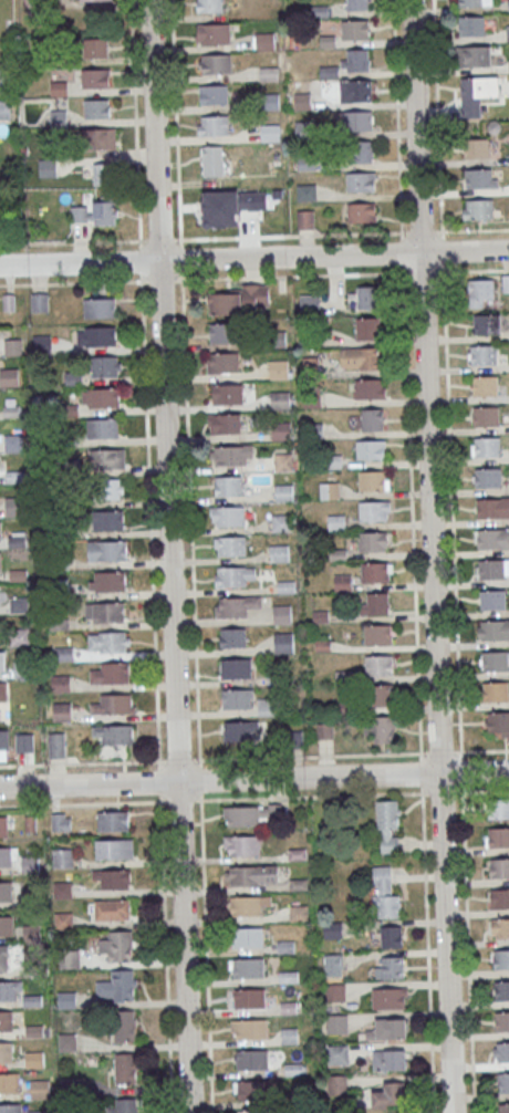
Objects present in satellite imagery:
building: (95, 0)
building: (472, 2)
building: (357, 4)
building: (209, 6)
building: (471, 25)
building: (355, 29)
building: (212, 33)
building: (95, 46)
building: (472, 55)
building: (357, 59)
building: (215, 64)
building: (3, 76)
building: (95, 77)
building: (362, 90)
building: (214, 94)
building: (477, 94)
building: (4, 108)
building: (96, 108)
building: (360, 121)
building: (214, 125)
building: (303, 129)
building: (269, 132)
building: (98, 138)
building: (477, 148)
building: (363, 150)
building: (211, 160)
building: (46, 167)
building: (103, 174)
building: (481, 178)
building: (361, 181)
building: (305, 193)
building: (480, 209)
building: (95, 212)
building: (362, 212)
building: (214, 218)
building: (305, 219)
road: (254, 237)
road: (253, 258)
road: (455, 271)
road: (272, 277)
road: (71, 283)
building: (506, 283)
building: (482, 288)
building: (367, 297)
building: (239, 300)
building: (40, 303)
building: (310, 303)
building: (98, 308)
building: (488, 323)
building: (366, 327)
building: (222, 332)
building: (104, 336)
building: (311, 337)
building: (278, 339)
building: (42, 343)
building: (485, 354)
building: (360, 357)
building: (226, 362)
building: (105, 366)
building: (279, 368)
building: (9, 376)
building: (485, 385)
building: (368, 388)
building: (229, 394)
building: (101, 397)
building: (280, 398)
building: (312, 398)
building: (487, 416)
building: (373, 419)
building: (228, 423)
building: (102, 428)
building: (281, 430)
building: (313, 430)
building: (13, 443)
building: (488, 446)
building: (371, 448)
building: (229, 456)
building: (107, 458)
building: (283, 461)
building: (332, 461)
building: (70, 469)
building: (488, 477)
building: (372, 480)
building: (228, 486)
building: (106, 489)
building: (330, 491)
building: (284, 492)
building: (492, 508)
building: (15, 509)
building: (373, 510)
building: (230, 516)
building: (110, 520)
building: (336, 522)
building: (280, 524)
building: (0, 531)
building: (494, 538)
building: (17, 541)
building: (372, 541)
building: (232, 545)
building: (107, 550)
building: (279, 553)
building: (339, 554)
road: (153, 555)
road: (172, 555)
road: (191, 555)
road: (430, 555)
road: (454, 555)
road: (412, 556)
building: (0, 562)
building: (491, 568)
building: (375, 571)
building: (231, 576)
building: (17, 581)
building: (107, 581)
building: (343, 582)
building: (285, 585)
building: (60, 591)
building: (492, 599)
building: (375, 603)
building: (19, 604)
building: (233, 606)
building: (104, 612)
building: (282, 614)
building: (321, 616)
building: (495, 628)
building: (378, 634)
building: (18, 637)
building: (233, 637)
building: (108, 641)
building: (283, 643)
building: (323, 646)
building: (2, 660)
building: (496, 660)
building: (378, 665)
building: (237, 668)
building: (111, 673)
building: (61, 684)
building: (2, 690)
building: (496, 690)
building: (382, 694)
building: (237, 698)
building: (114, 704)
building: (266, 707)
building: (62, 712)
building: (498, 721)
building: (381, 728)
building: (240, 730)
building: (325, 730)
building: (114, 734)
building: (25, 742)
building: (4, 745)
building: (56, 745)
road: (485, 750)
road: (254, 780)
building: (498, 808)
building: (243, 815)
building: (61, 821)
building: (113, 821)
building: (3, 826)
building: (387, 826)
building: (499, 838)
building: (245, 845)
building: (114, 849)
building: (8, 856)
building: (63, 857)
building: (31, 863)
building: (499, 867)
building: (253, 874)
building: (115, 878)
building: (62, 890)
building: (6, 891)
building: (385, 894)
building: (500, 898)
building: (247, 906)
building: (112, 911)
building: (7, 925)
building: (333, 928)
building: (502, 928)
building: (392, 936)
building: (248, 937)
building: (116, 945)
building: (285, 947)
building: (6, 958)
building: (501, 958)
building: (69, 959)
building: (333, 965)
building: (249, 967)
building: (389, 967)
building: (288, 976)
building: (117, 986)
building: (10, 990)
building: (501, 990)
building: (335, 992)
building: (388, 997)
building: (250, 998)
building: (288, 1008)
building: (7, 1020)
building: (502, 1021)
building: (336, 1023)
building: (125, 1026)
building: (250, 1028)
building: (388, 1029)
building: (289, 1036)
building: (7, 1052)
building: (502, 1052)
building: (337, 1053)
building: (252, 1059)
building: (389, 1059)
building: (126, 1070)
building: (293, 1070)
building: (10, 1082)
building: (503, 1082)
building: (336, 1084)
building: (40, 1089)
building: (252, 1090)
building: (391, 1095)
building: (124, 1105)
building: (11, 1107)
building: (503, 1107)
building: (37, 1111)
building: (257, 1112)

